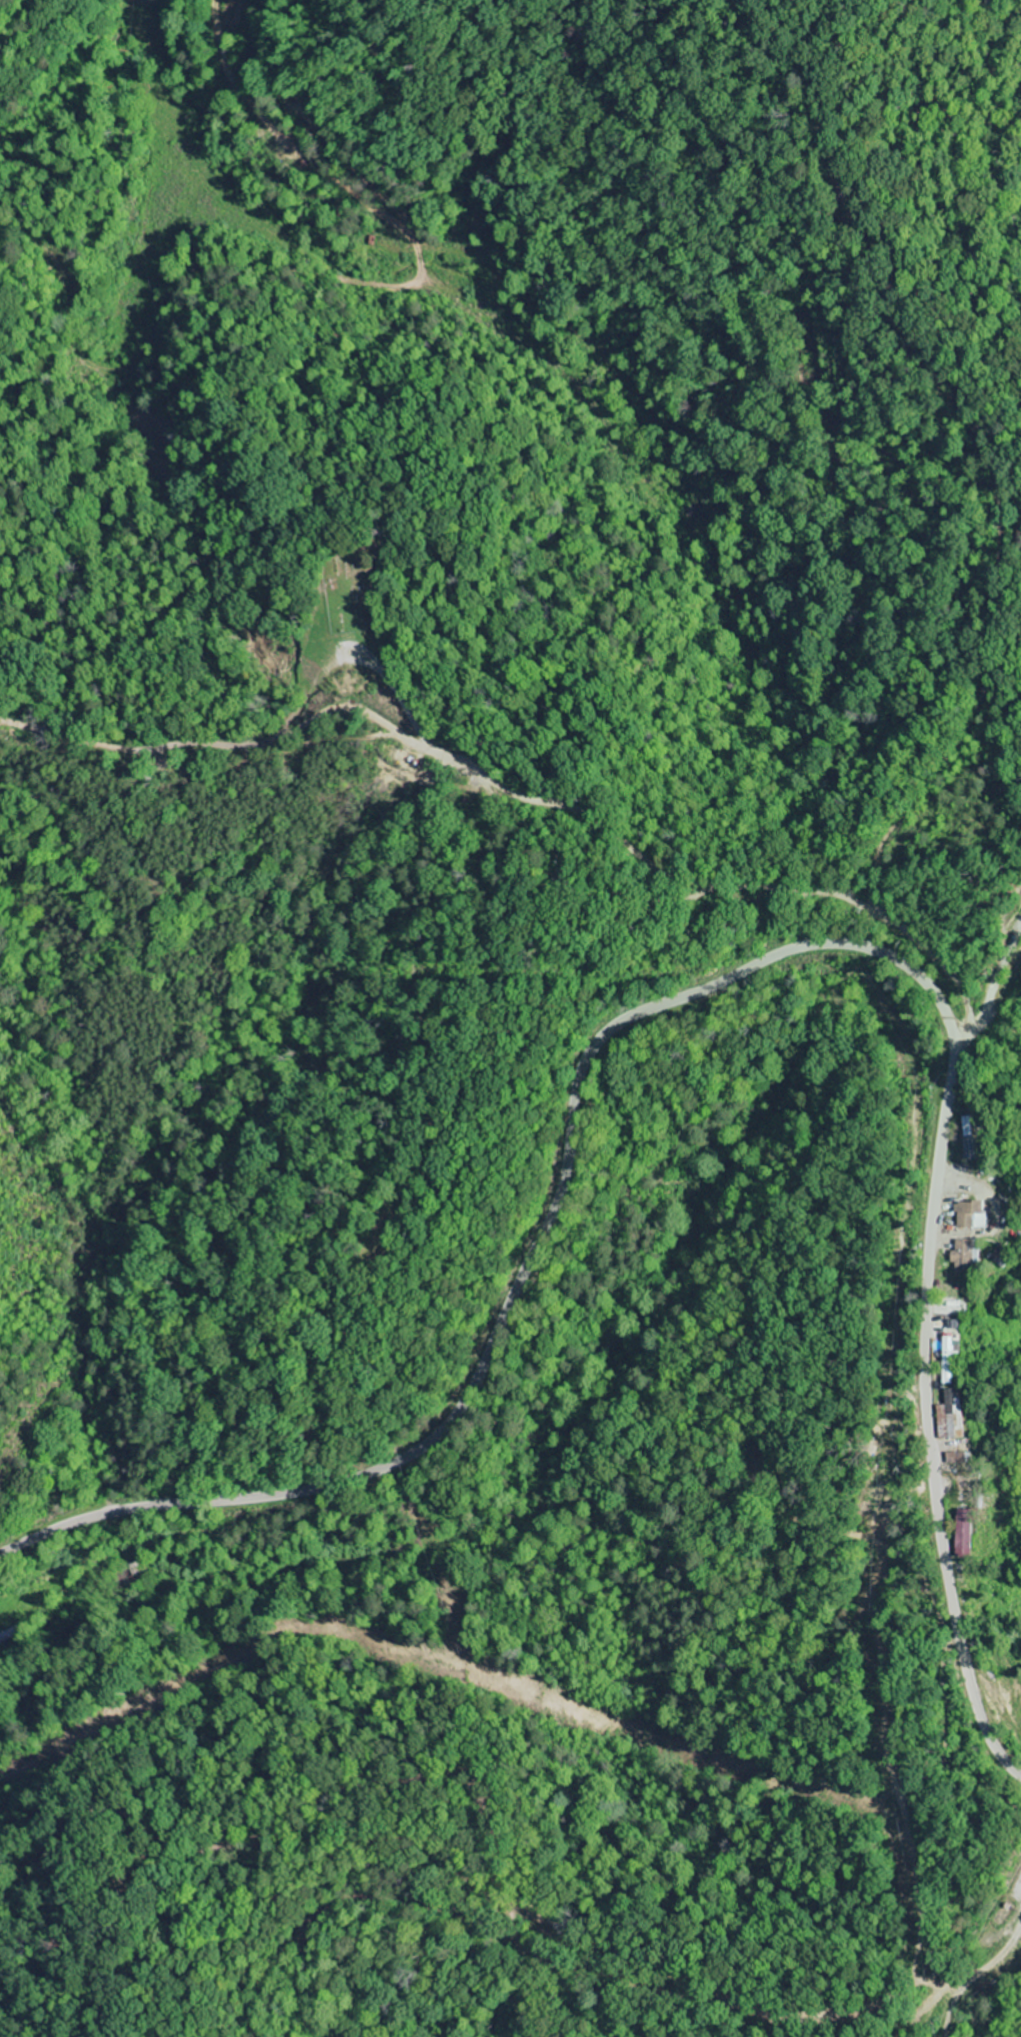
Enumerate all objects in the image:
road: (26, 18)
road: (163, 227)
road: (585, 227)
park: (351, 588)
road: (686, 885)
road: (726, 979)
road: (995, 987)
building: (969, 1216)
building: (961, 1255)
building: (944, 1358)
building: (942, 1418)
building: (959, 1533)
road: (982, 1975)

